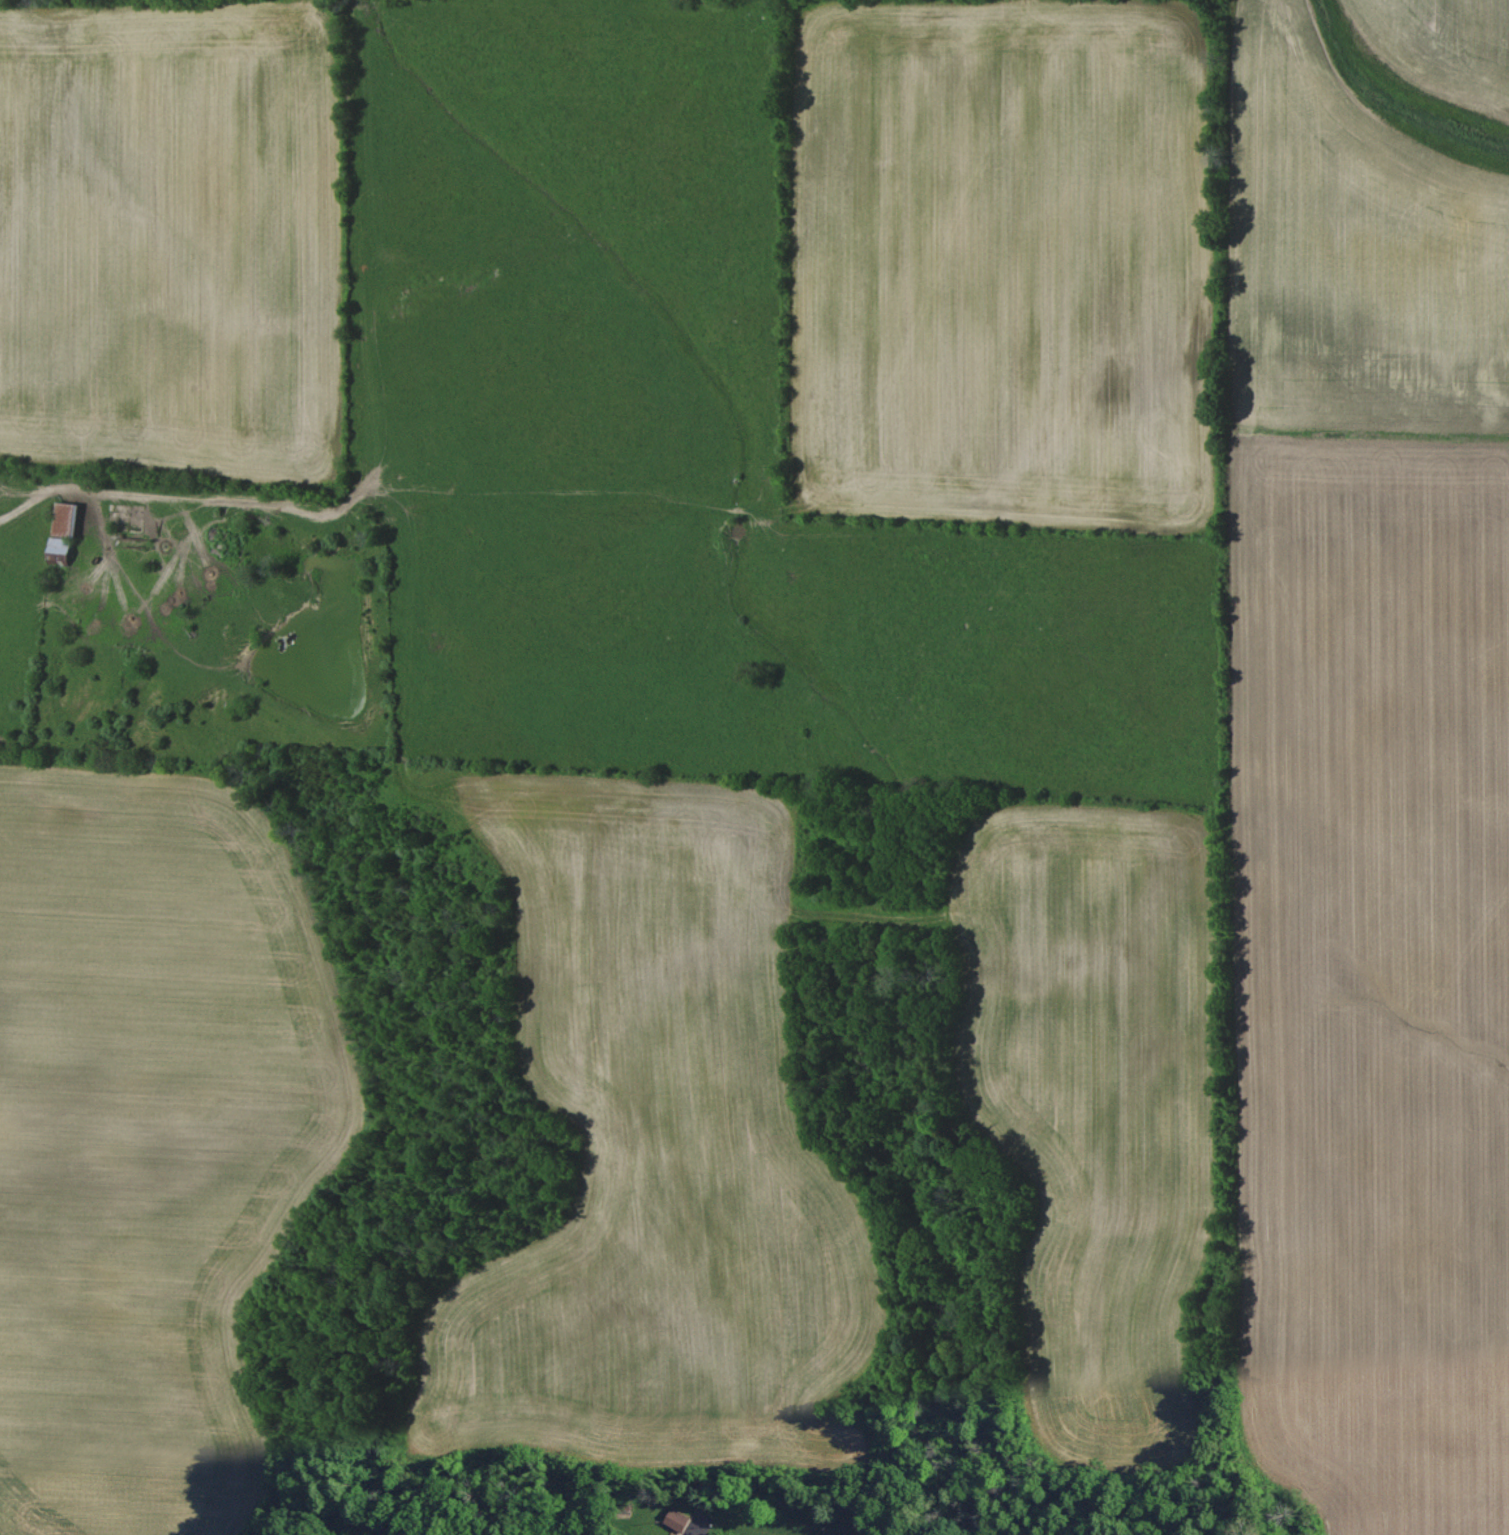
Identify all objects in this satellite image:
building: (66, 519)
building: (60, 551)
road: (883, 1184)
building: (678, 1518)

